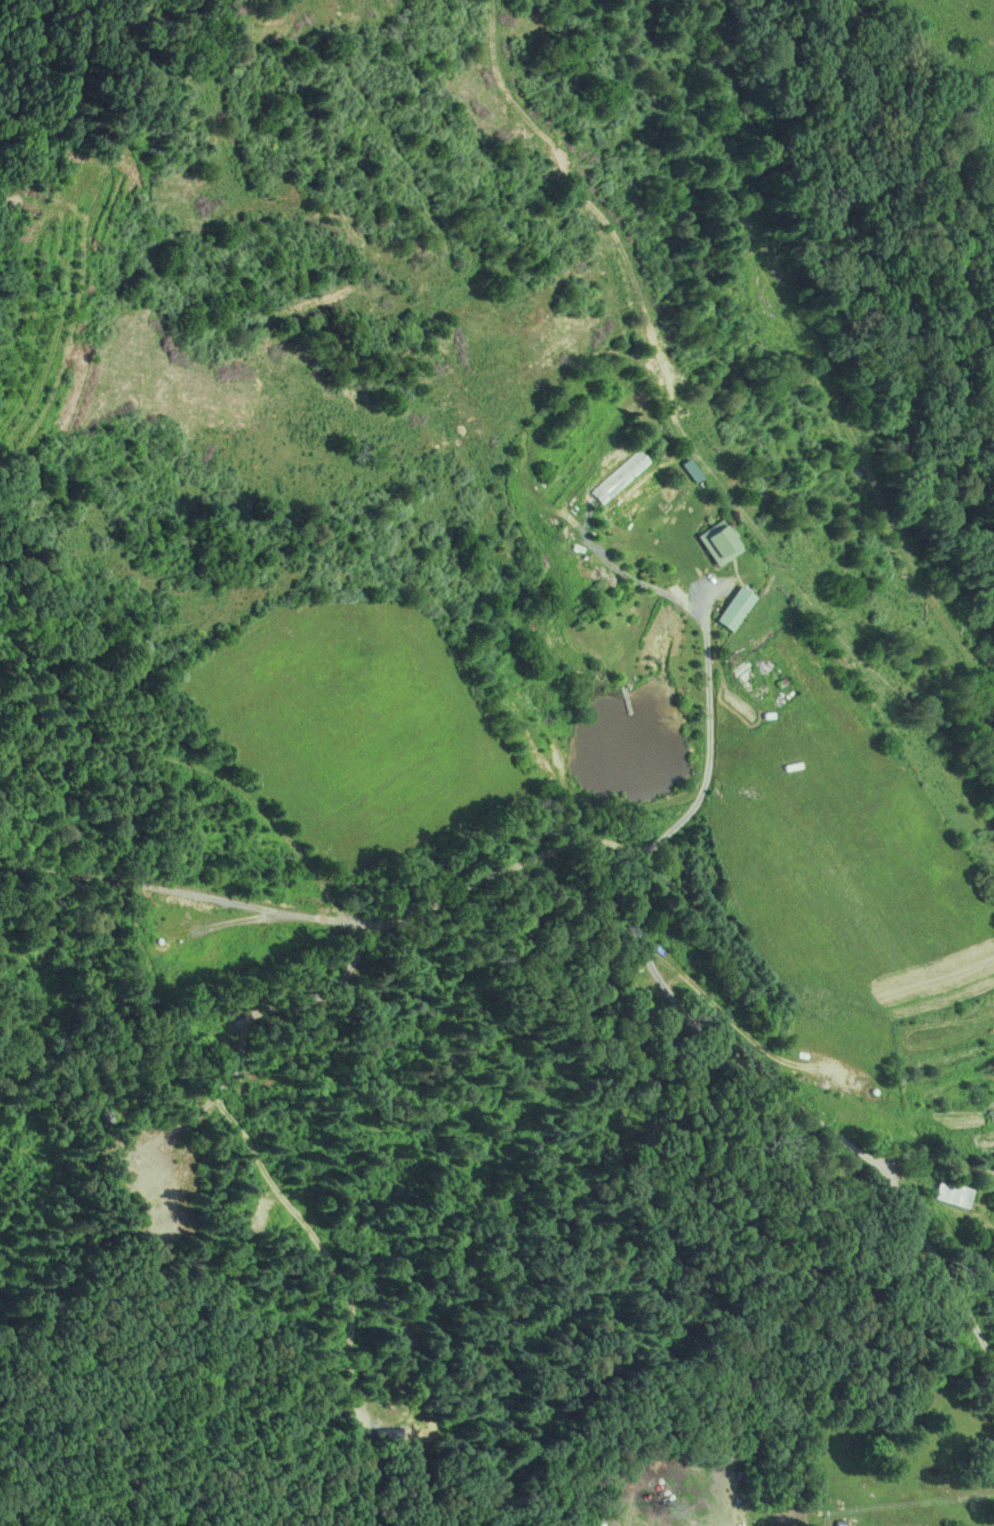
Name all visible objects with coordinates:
building: (713, 545)
building: (731, 610)
building: (790, 767)

